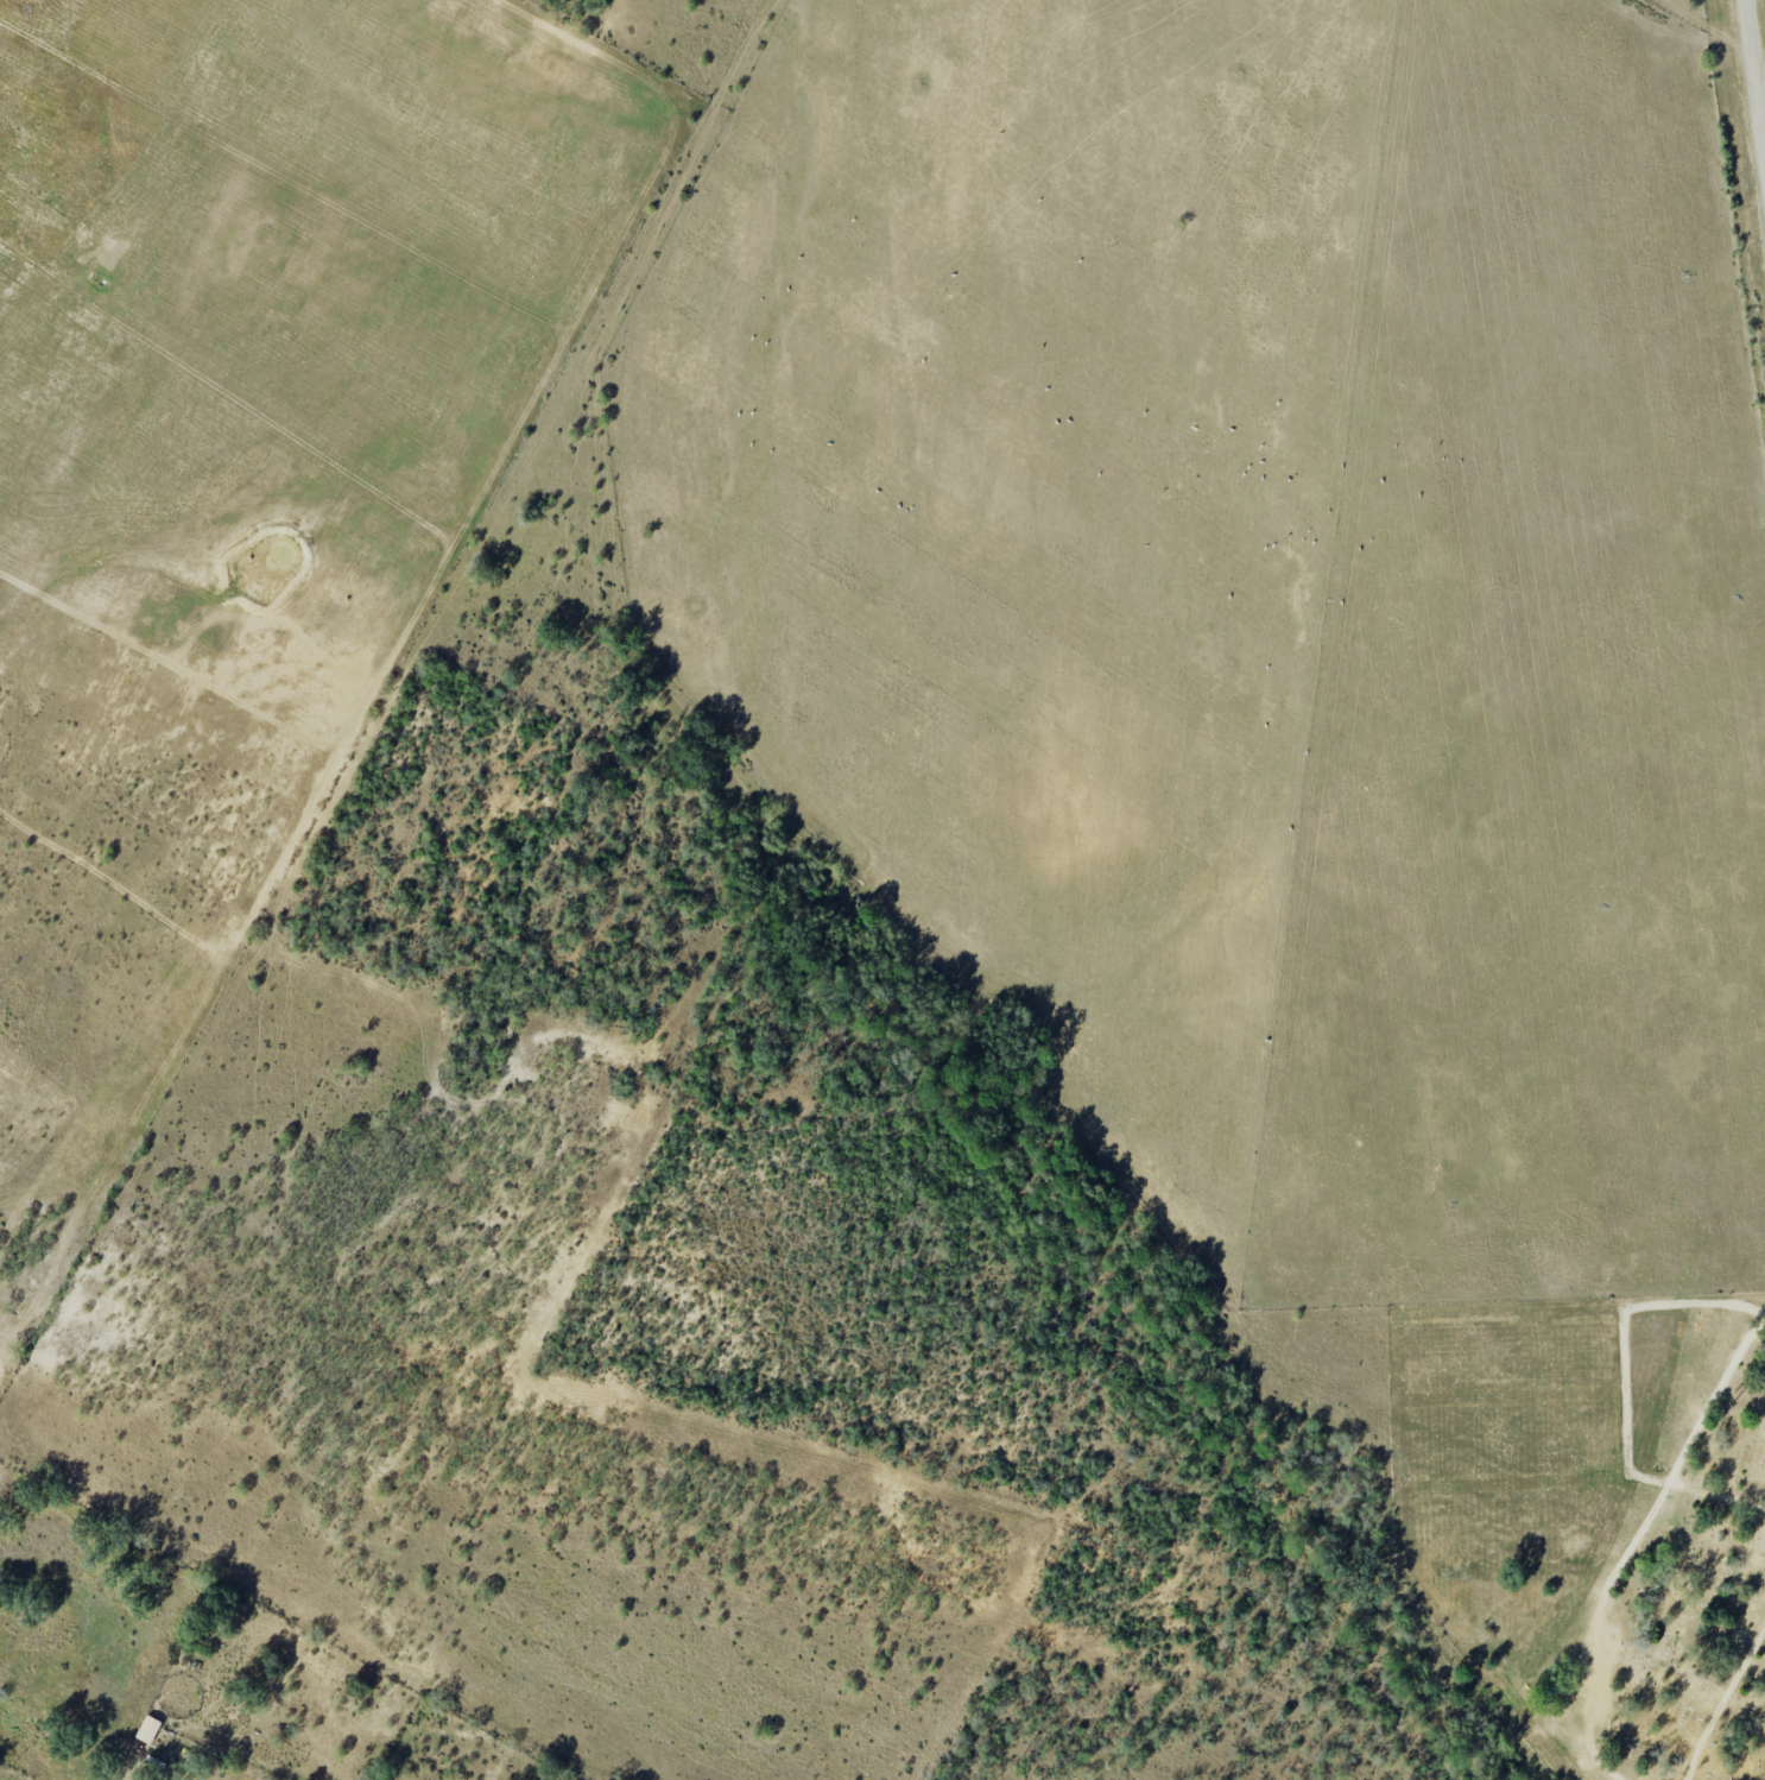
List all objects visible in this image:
road: (1760, 21)
road: (1707, 1408)
road: (1609, 1584)
park: (1675, 1615)
road: (1722, 1700)
building: (148, 1729)

